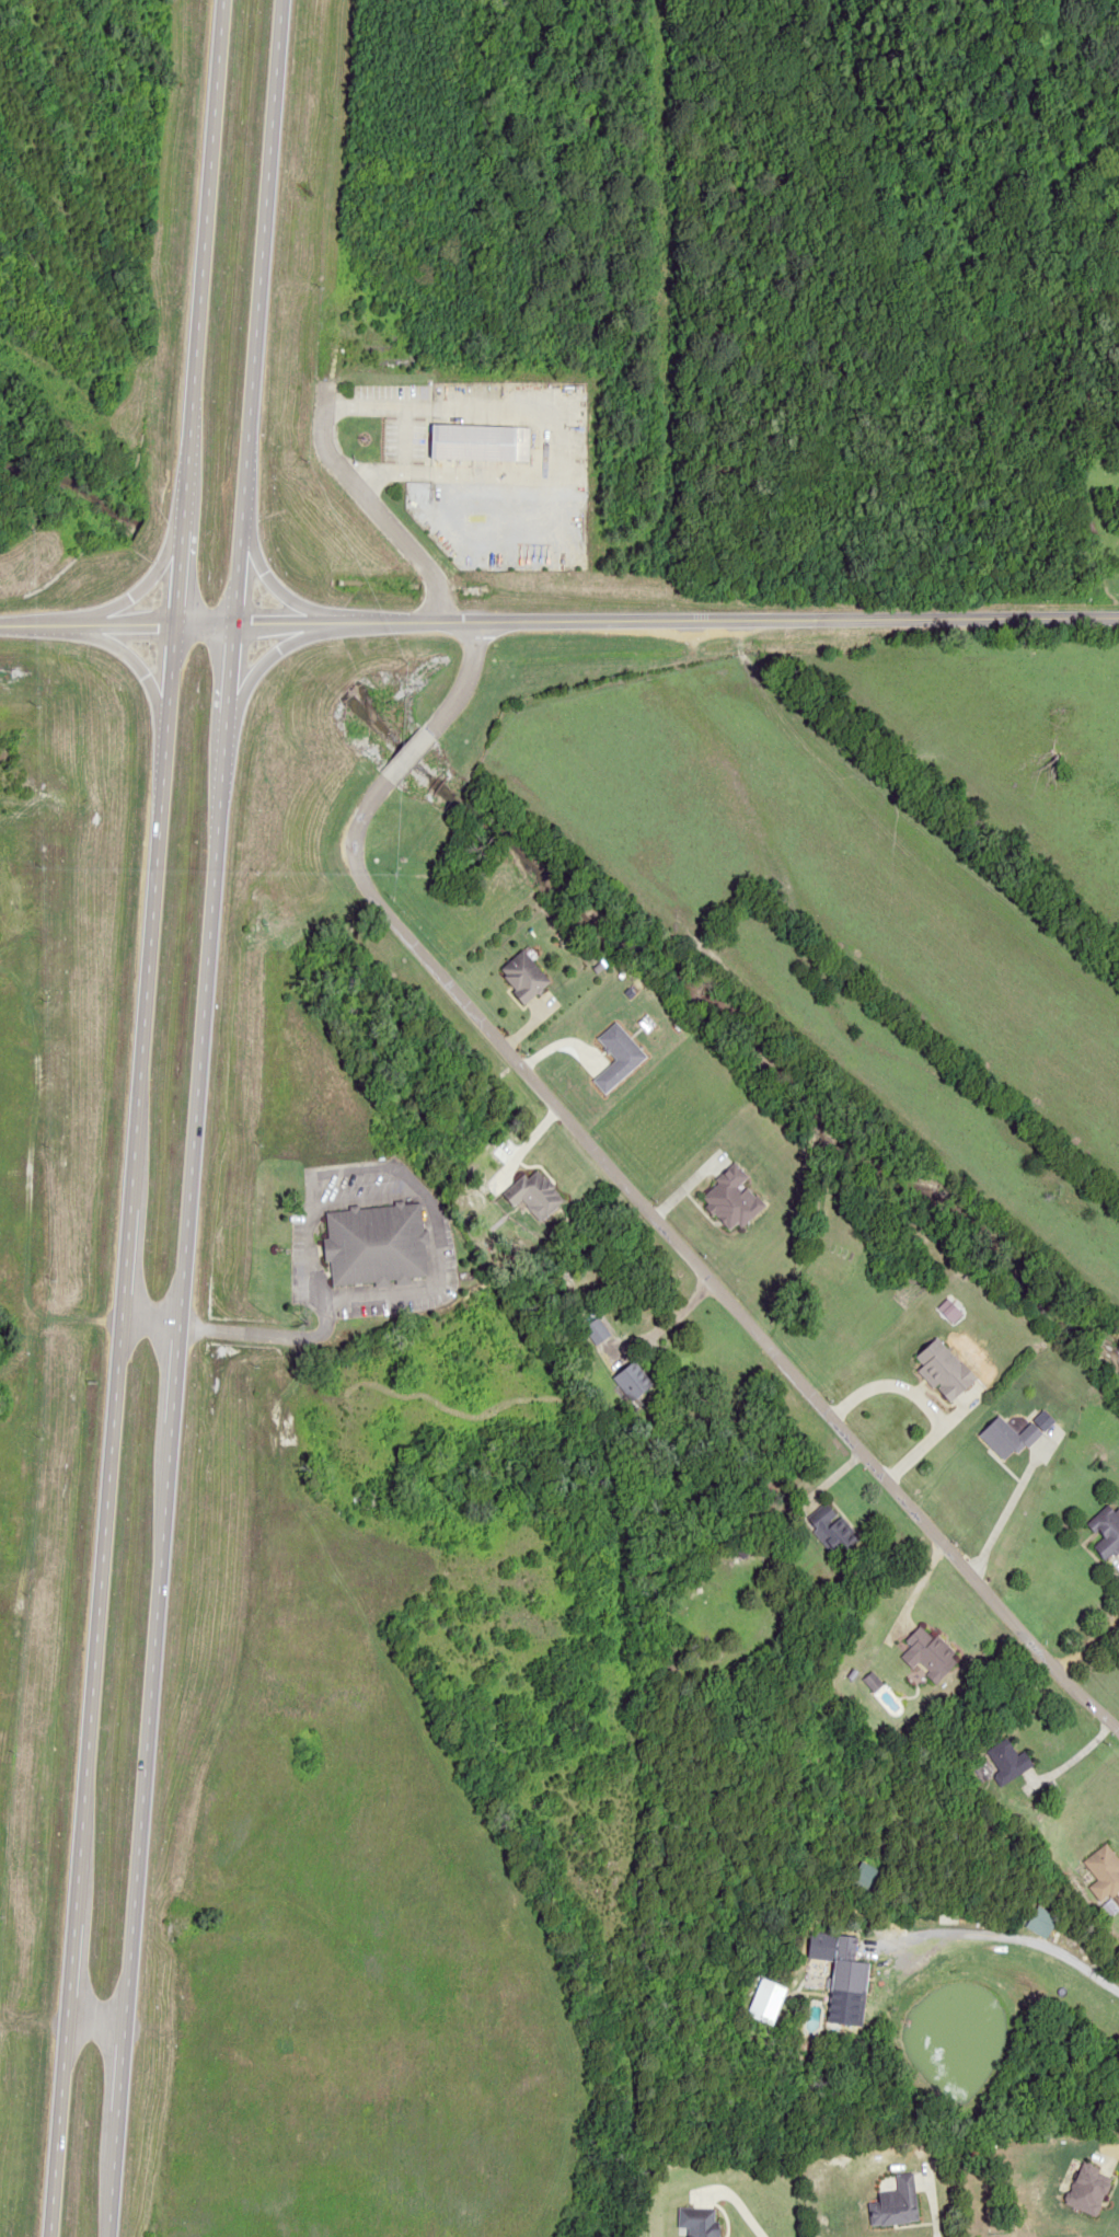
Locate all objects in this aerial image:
road: (194, 255)
road: (261, 255)
building: (478, 445)
road: (370, 505)
road: (170, 568)
road: (234, 568)
road: (272, 591)
road: (122, 600)
road: (558, 621)
road: (120, 656)
road: (258, 660)
road: (463, 681)
road: (160, 690)
road: (224, 690)
road: (404, 758)
building: (523, 976)
building: (616, 1057)
building: (534, 1194)
building: (374, 1244)
road: (696, 1271)
building: (596, 1330)
building: (943, 1370)
building: (631, 1382)
building: (1006, 1438)
road: (161, 1495)
road: (103, 1496)
building: (832, 1532)
building: (1107, 1533)
building: (927, 1653)
building: (1007, 1761)
building: (1104, 1871)
building: (847, 1967)
building: (896, 2203)
building: (699, 2222)

